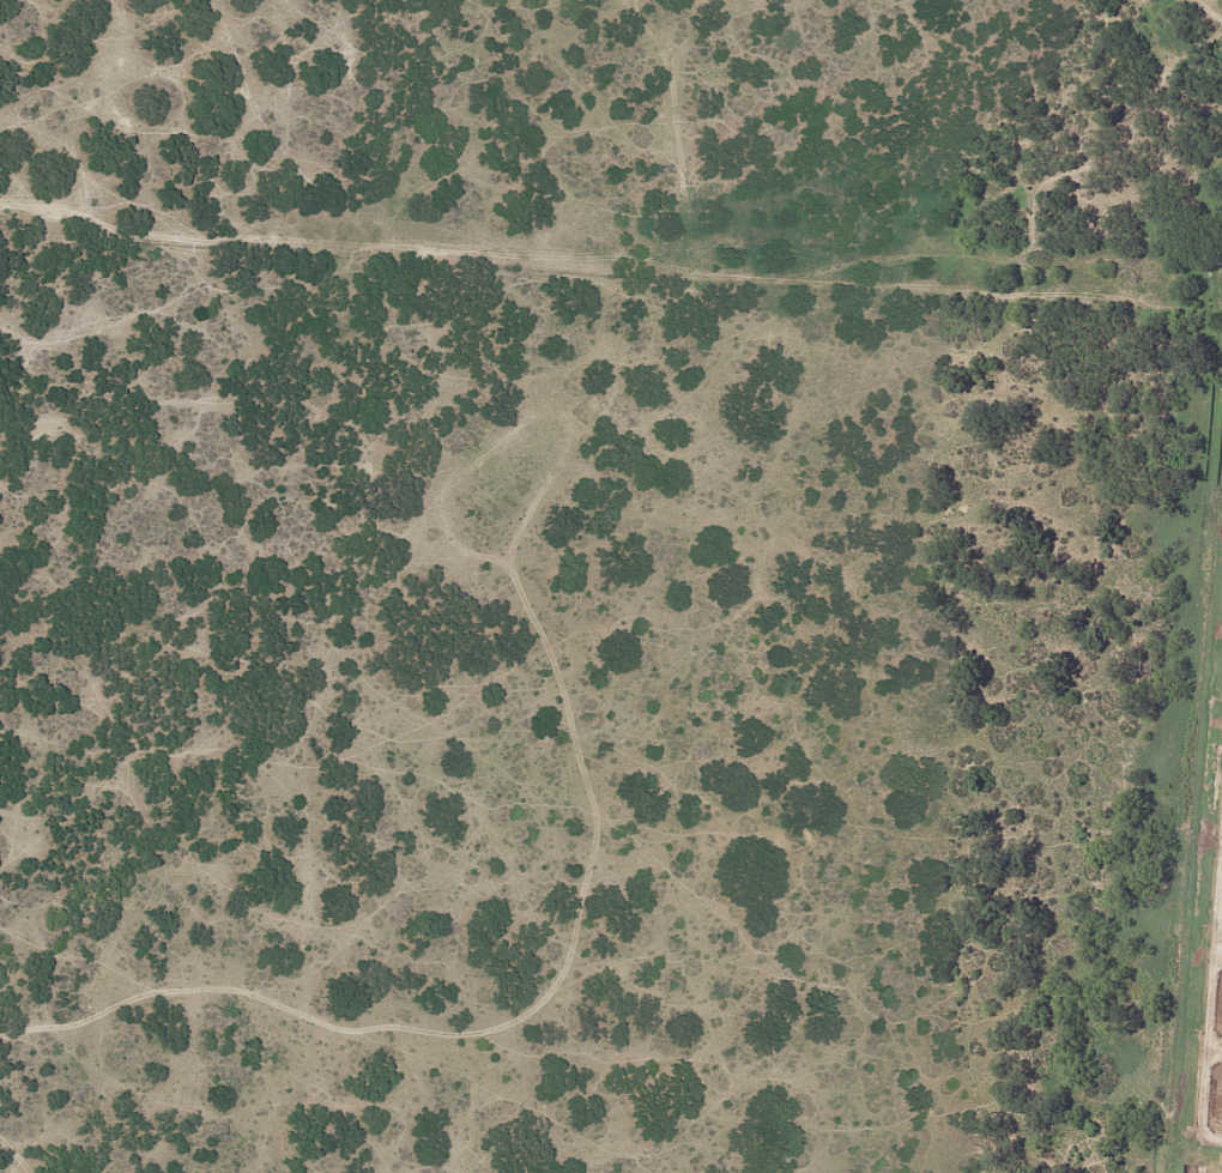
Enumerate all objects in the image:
road: (1220, 836)
road: (1216, 955)
road: (1209, 968)
road: (1212, 1053)

